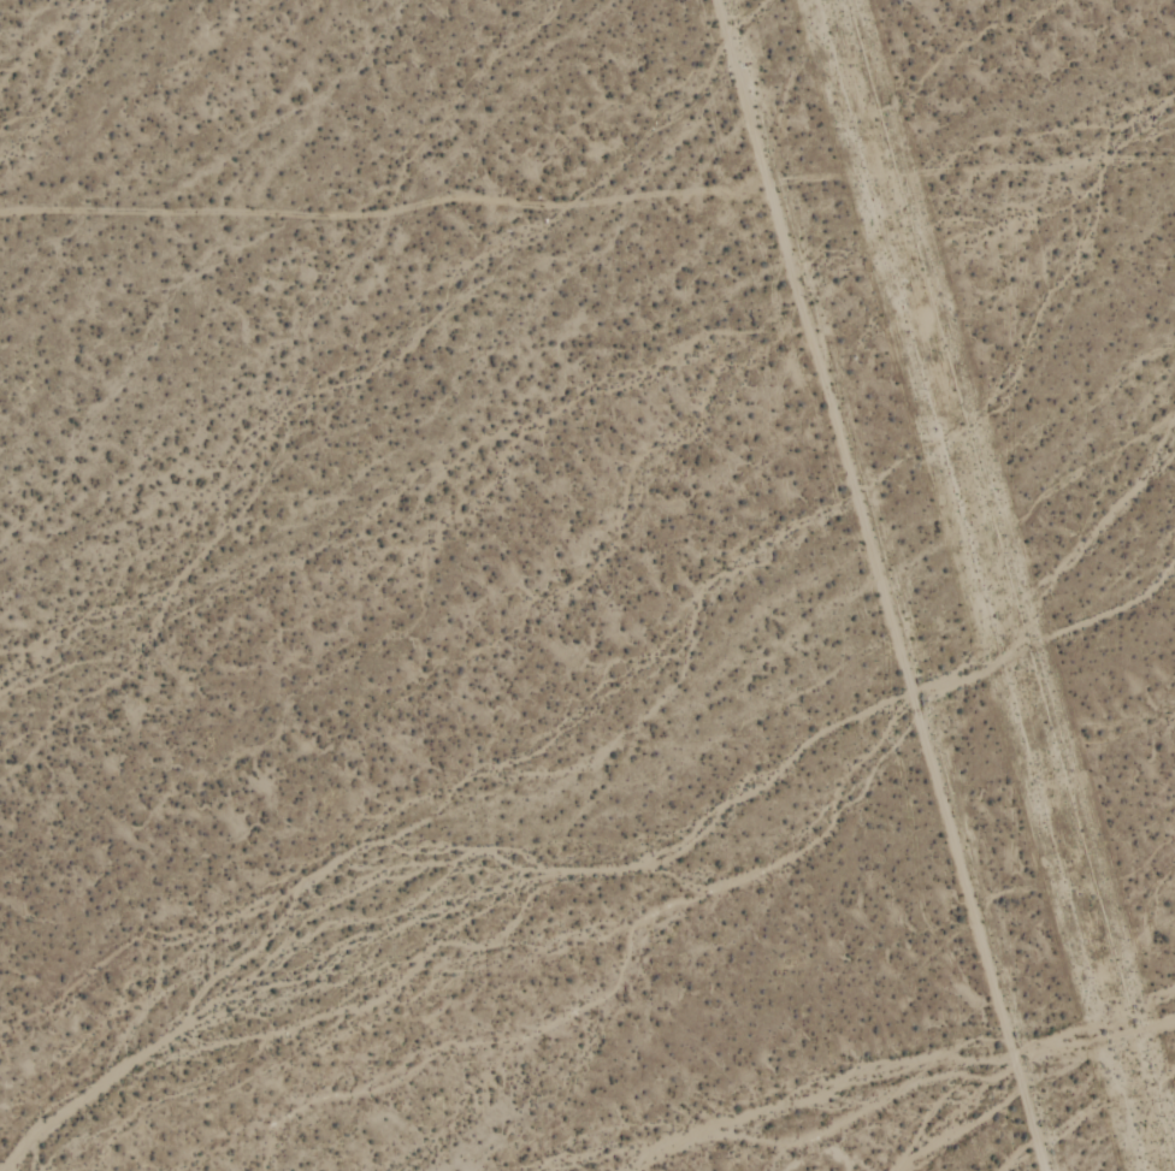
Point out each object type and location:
road: (878, 585)

